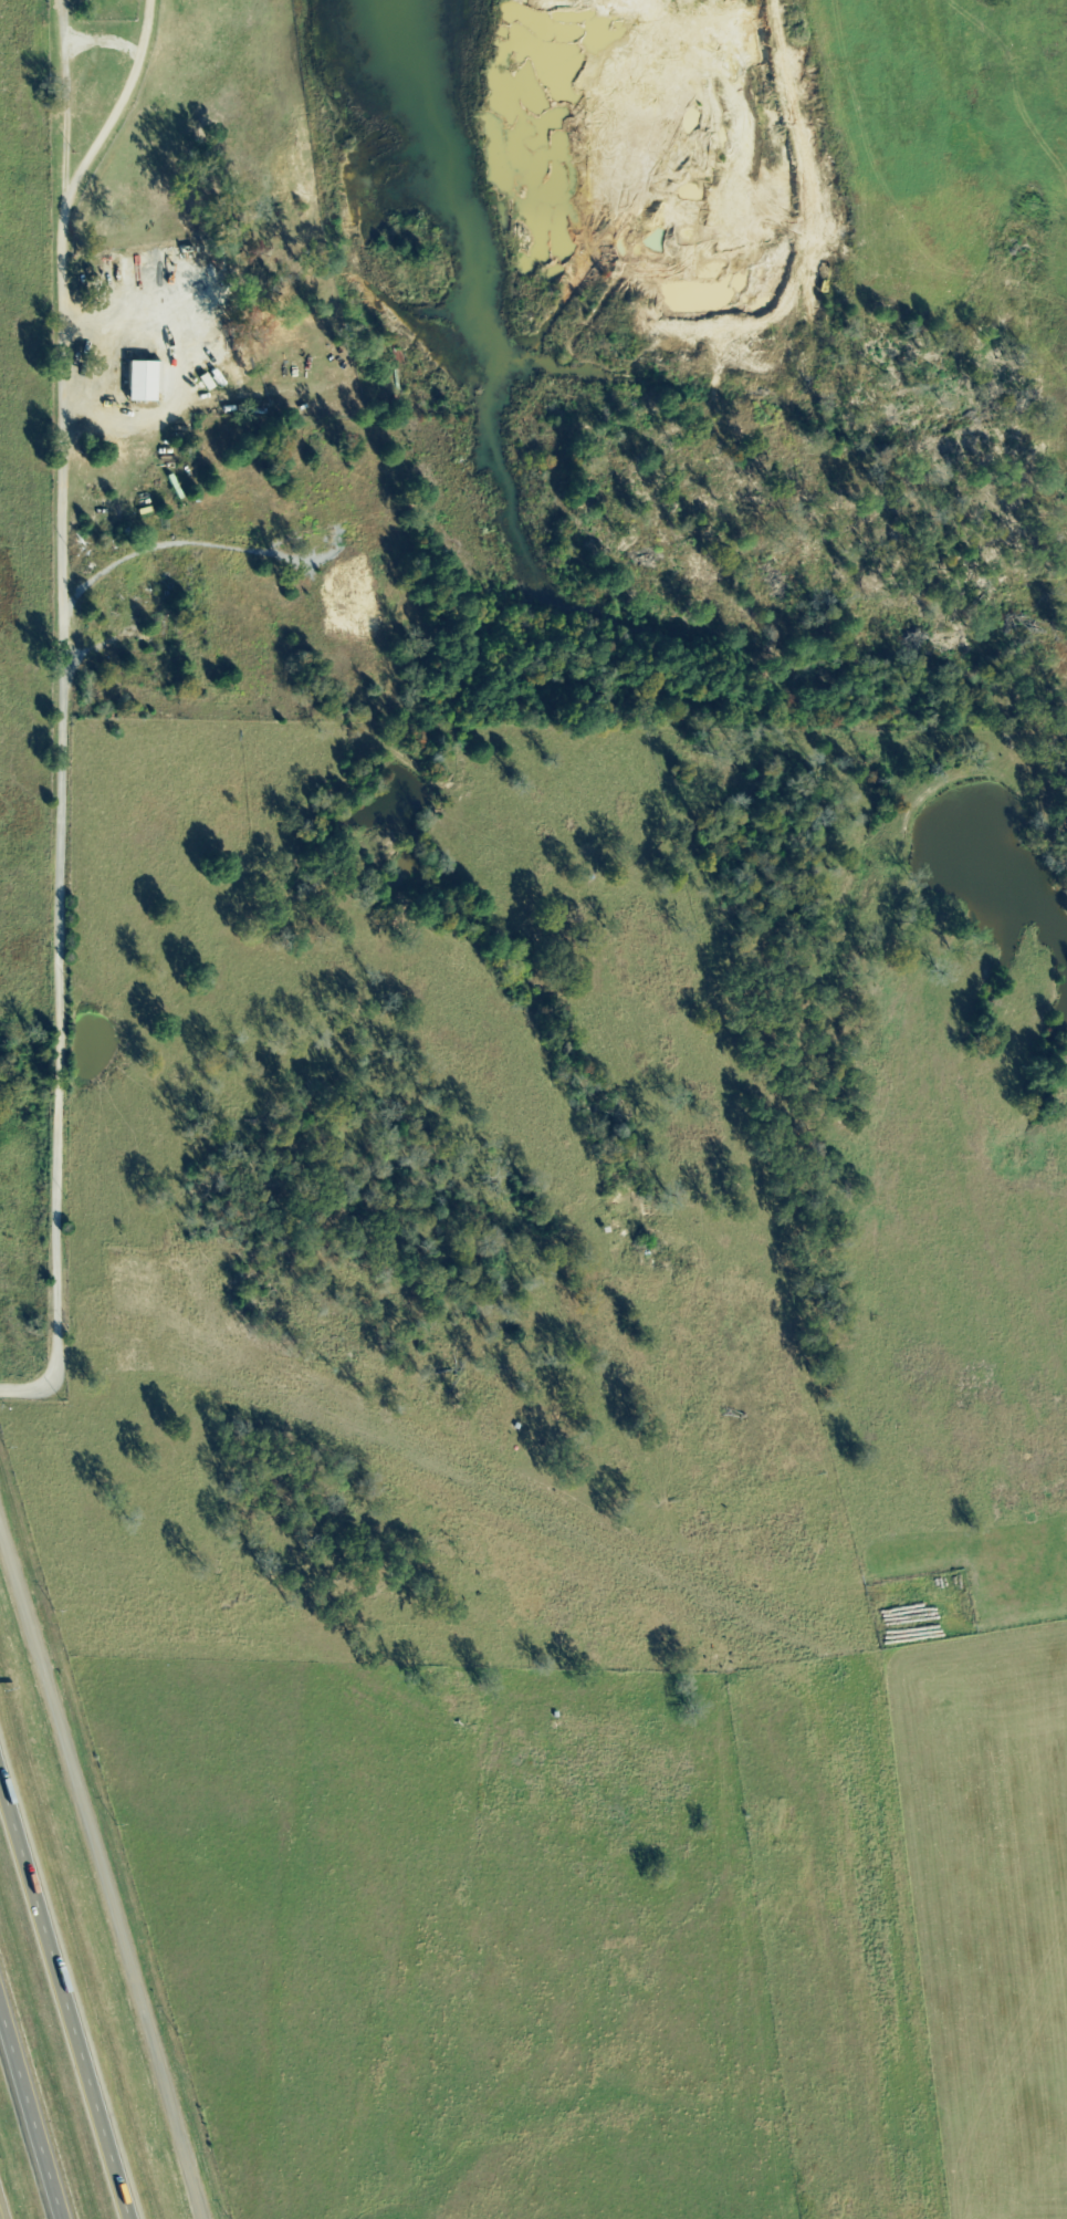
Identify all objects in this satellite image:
building: (145, 377)
building: (205, 383)
road: (63, 704)
road: (101, 1875)
road: (64, 1997)
road: (34, 2102)
road: (1, 2215)

